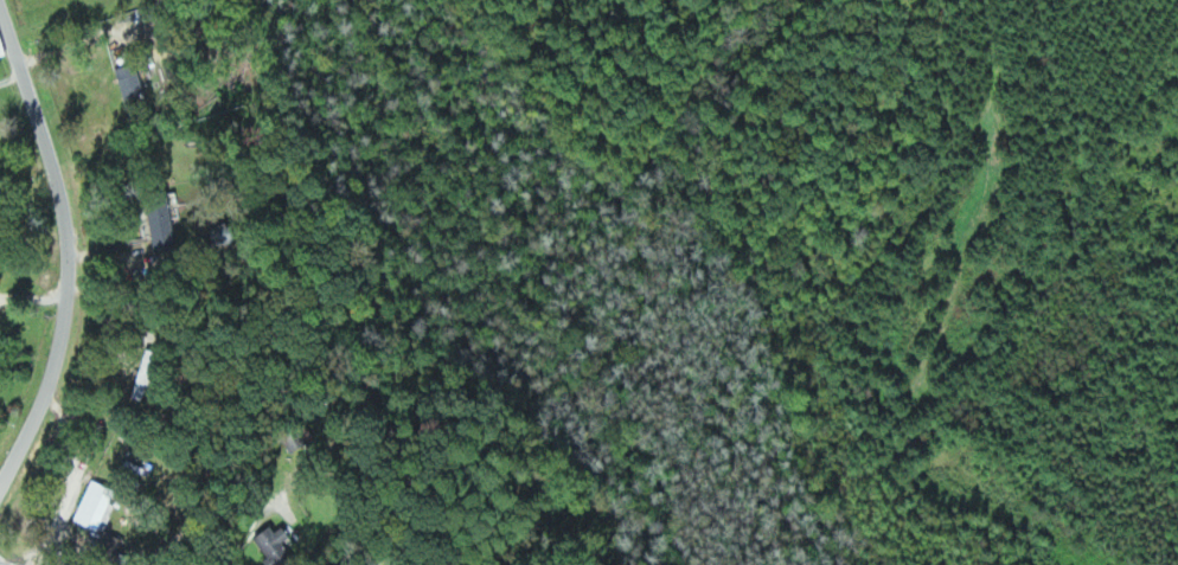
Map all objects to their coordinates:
building: (132, 79)
building: (165, 220)
road: (68, 244)
building: (98, 503)
building: (279, 546)
road: (2, 563)

